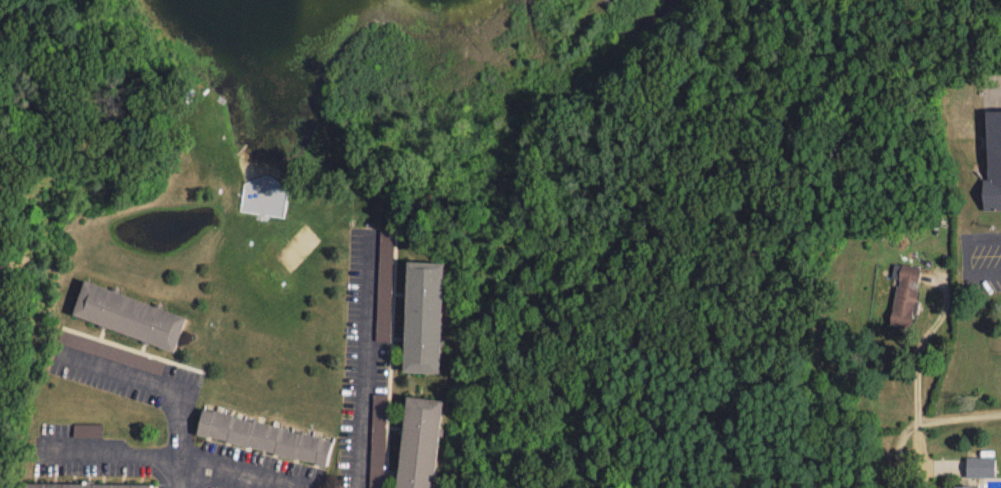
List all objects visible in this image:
building: (993, 162)
park: (691, 177)
road: (972, 255)
building: (386, 280)
building: (905, 293)
building: (129, 315)
building: (425, 316)
road: (361, 365)
road: (917, 369)
road: (150, 377)
road: (923, 420)
building: (266, 436)
building: (378, 440)
building: (420, 442)
road: (112, 450)
road: (918, 466)
building: (981, 466)
road: (218, 471)
building: (85, 485)
building: (965, 486)

